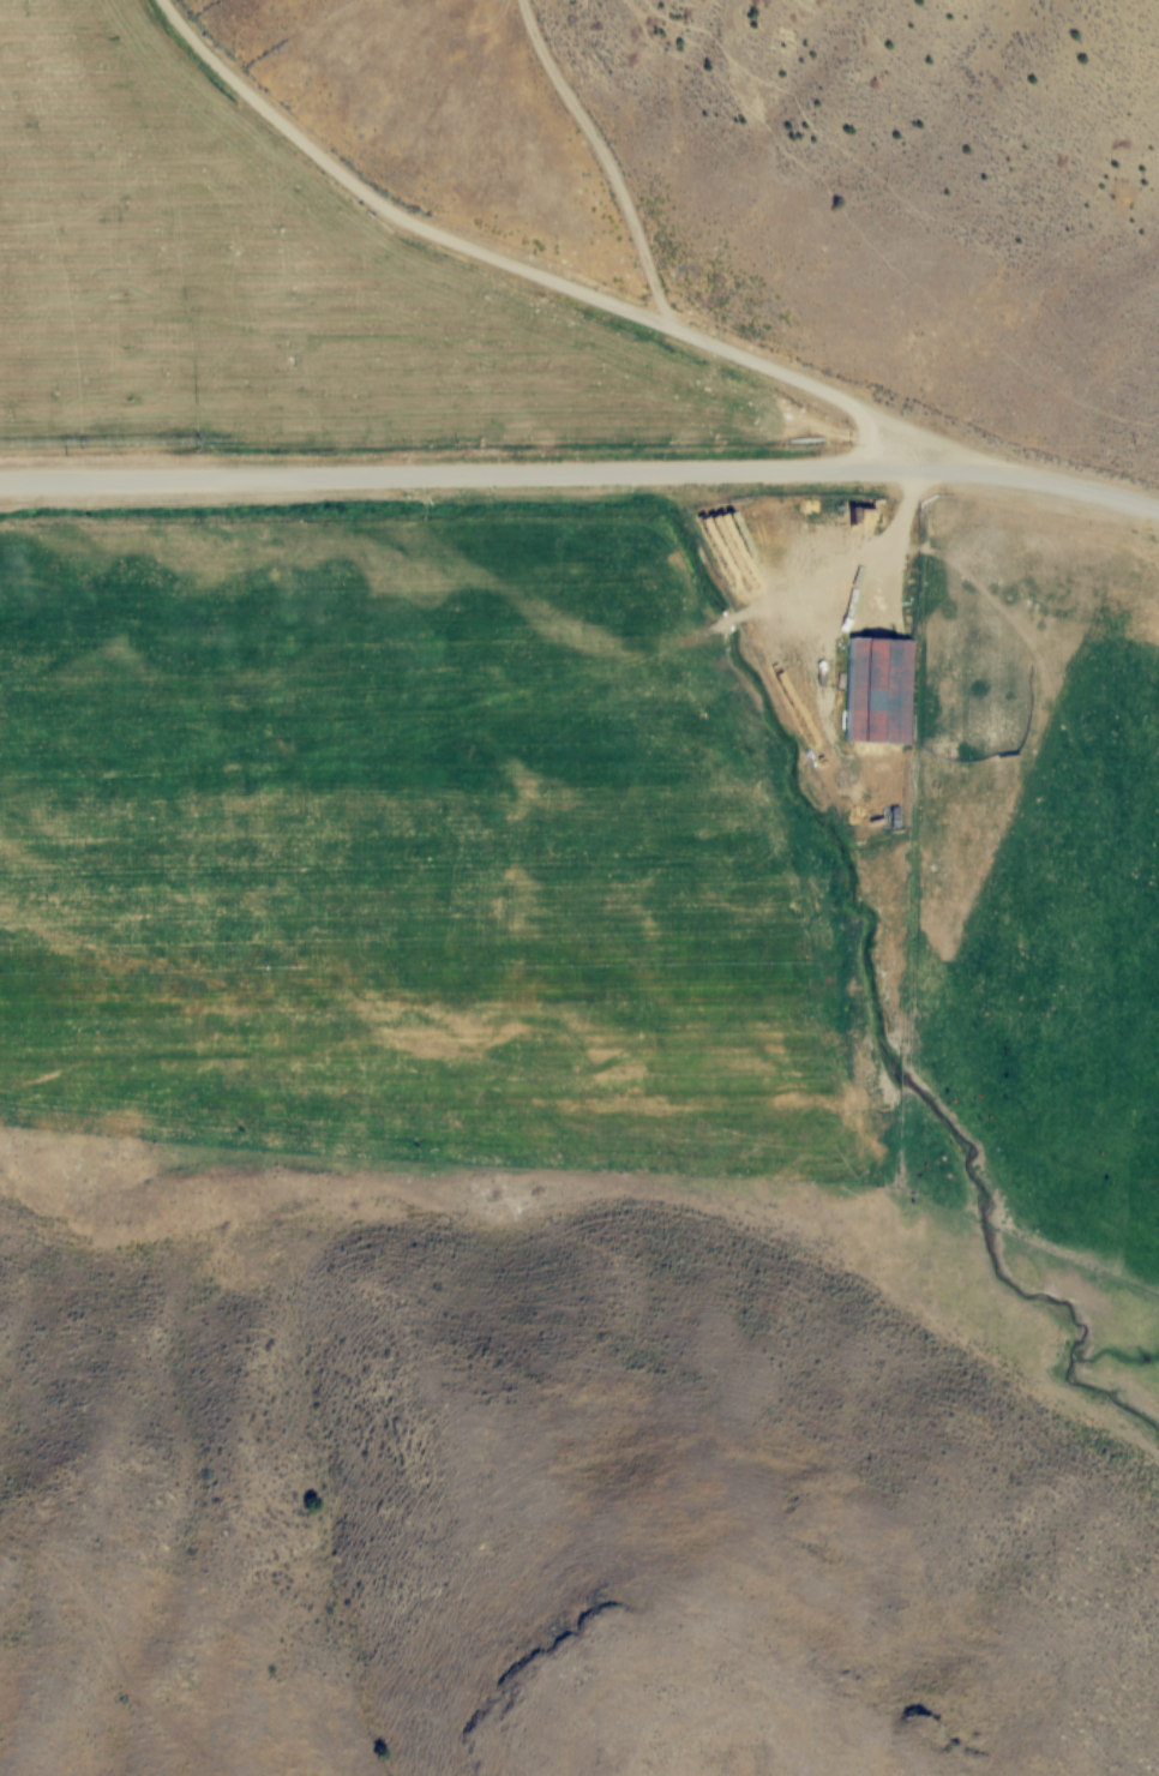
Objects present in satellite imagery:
road: (560, 278)
road: (869, 439)
road: (581, 473)
building: (876, 691)

